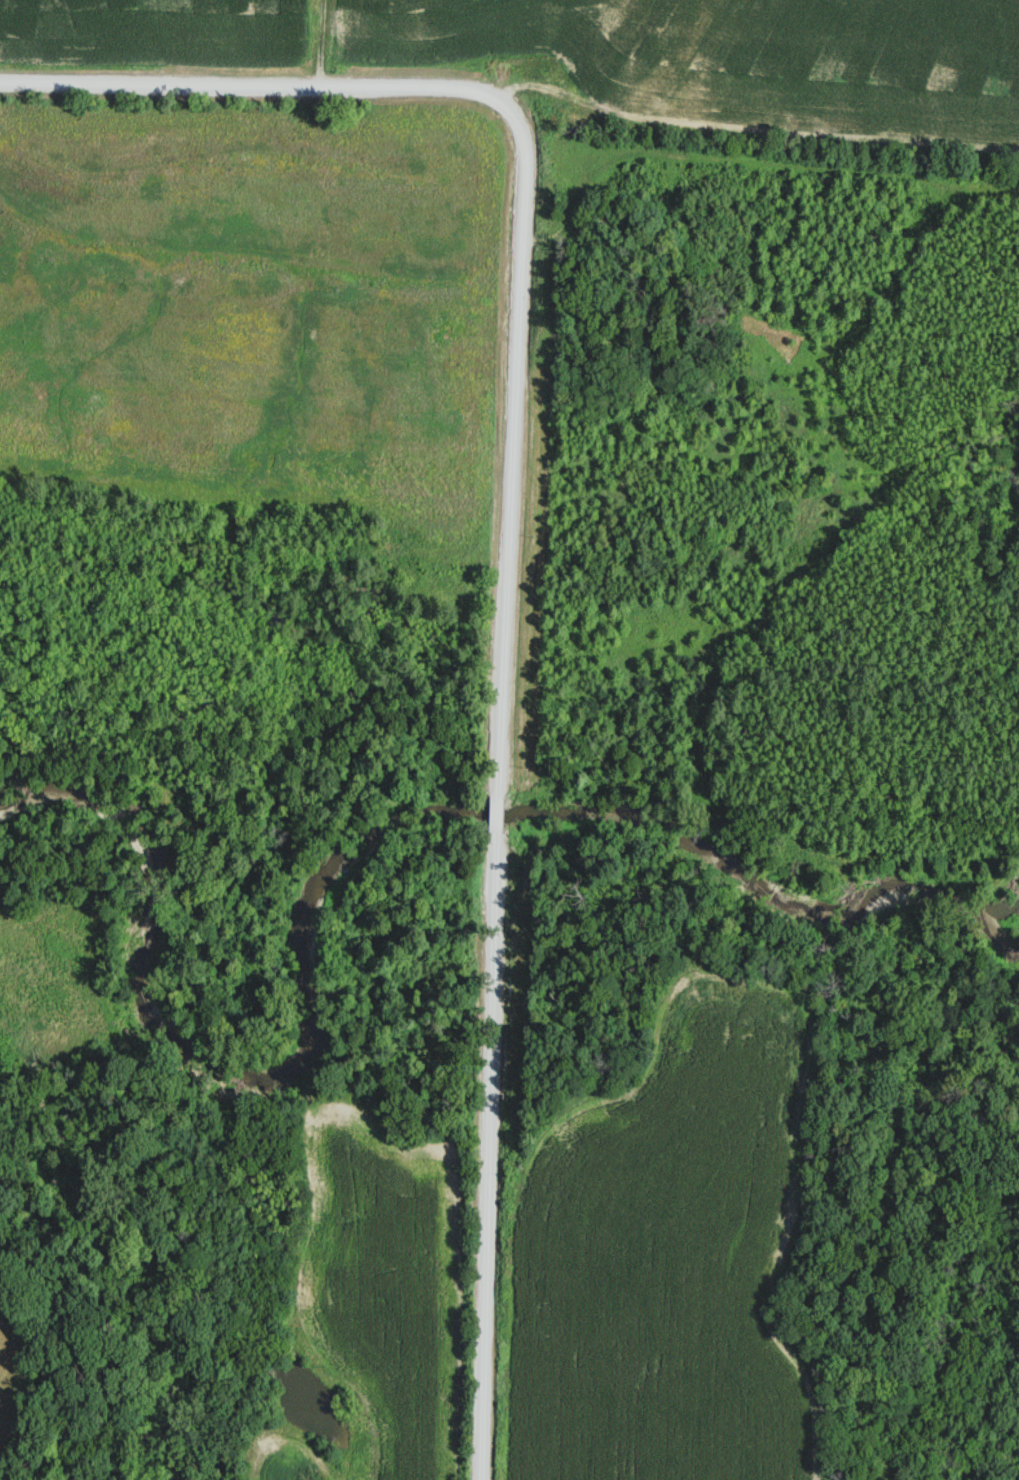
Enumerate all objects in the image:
road: (323, 43)
road: (509, 536)

